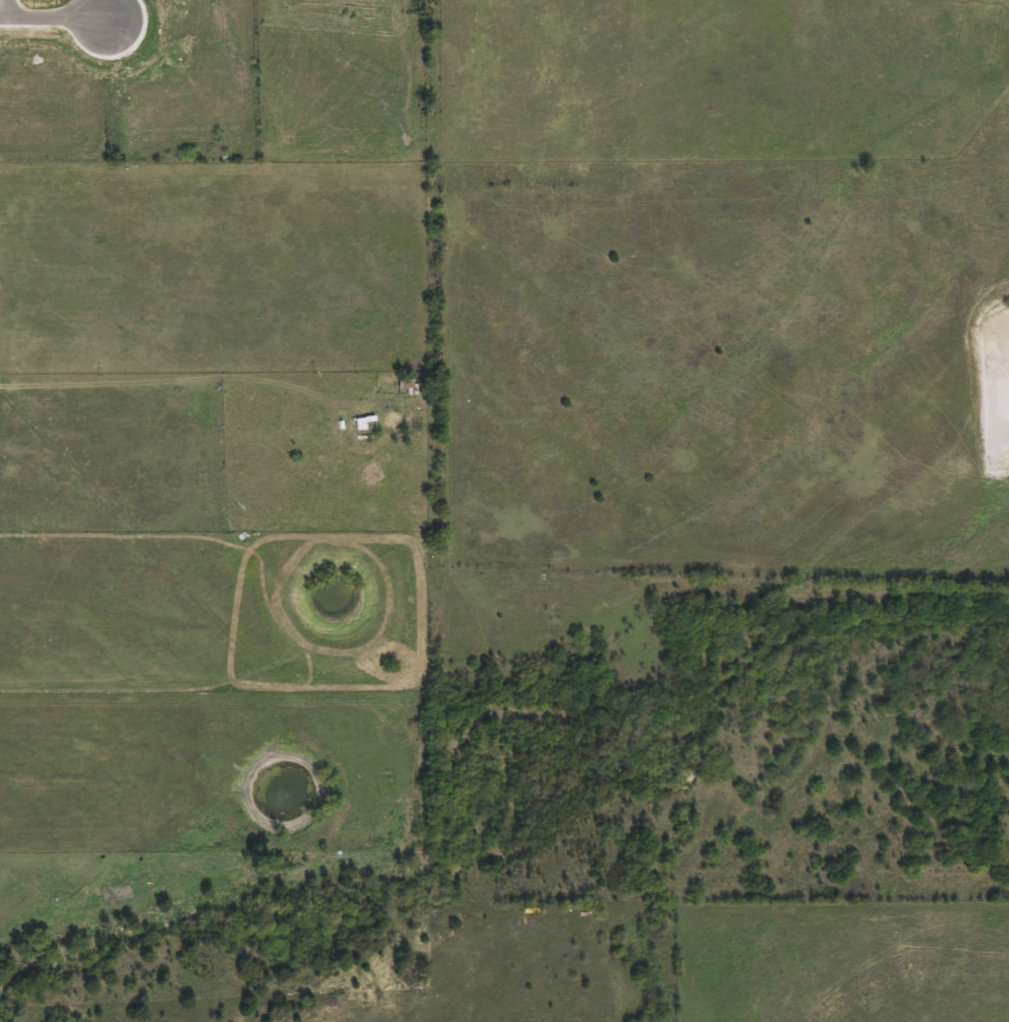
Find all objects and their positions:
road: (6, 10)
road: (53, 17)
building: (404, 382)
building: (363, 430)

